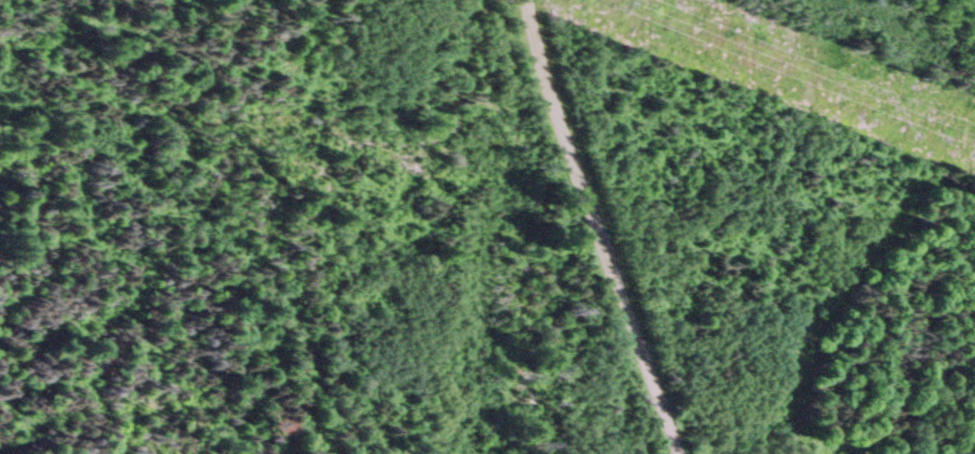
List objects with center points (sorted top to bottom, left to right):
road: (594, 228)

